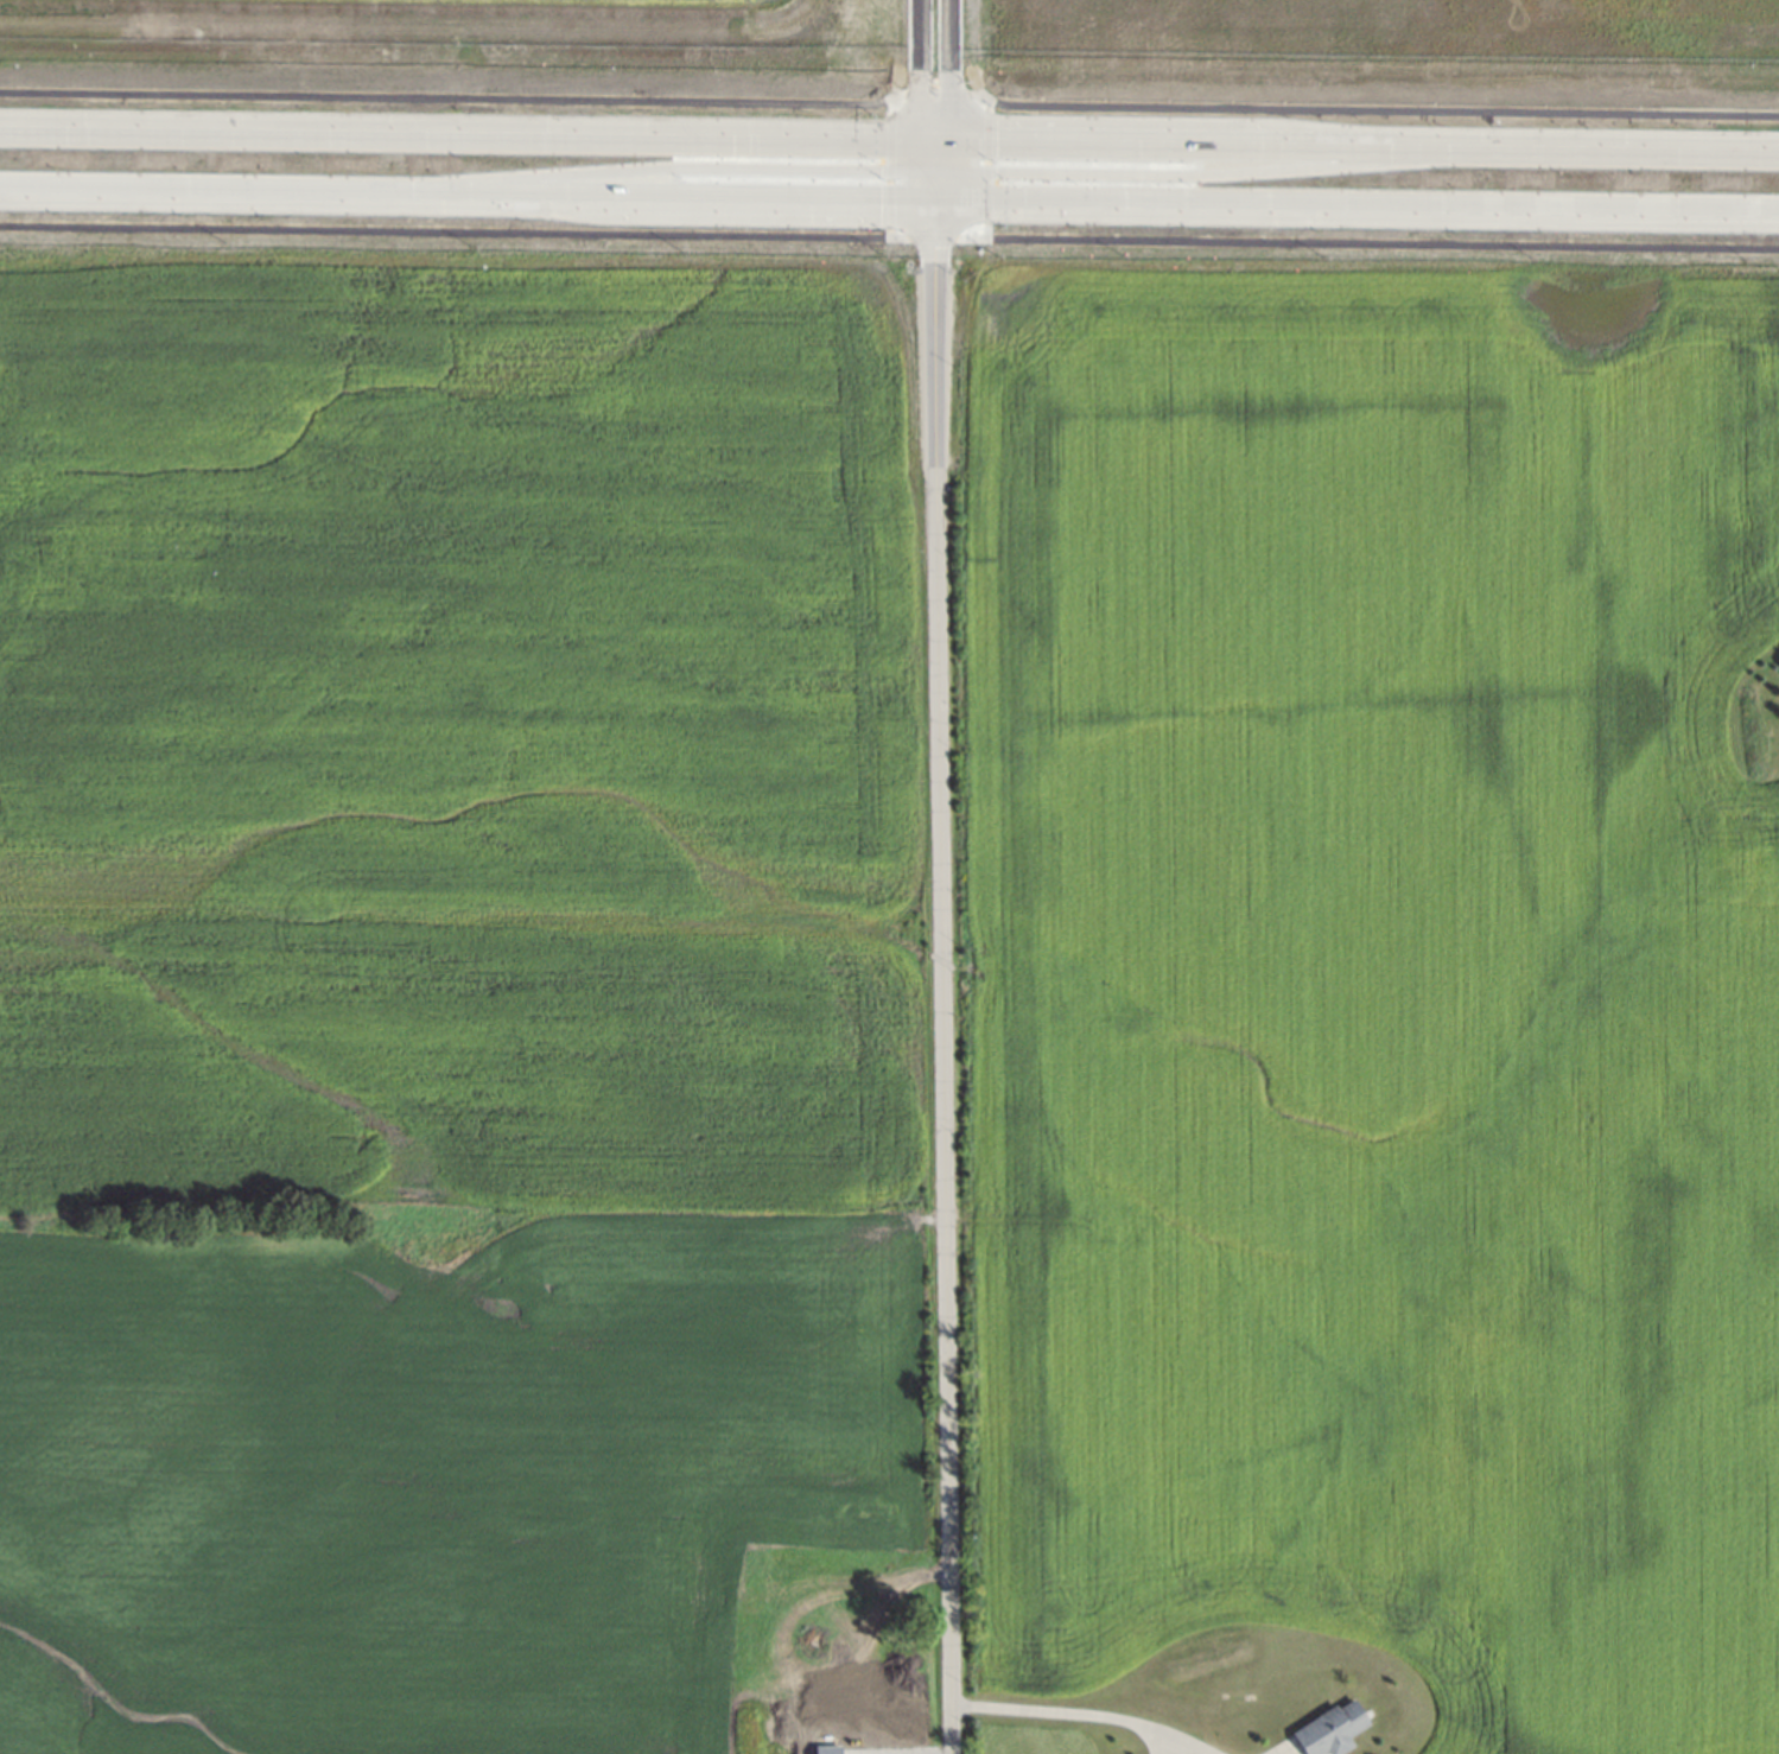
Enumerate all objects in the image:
road: (920, 69)
road: (947, 69)
traffic signals: (920, 85)
road: (935, 93)
road: (451, 97)
road: (1373, 108)
road: (460, 133)
road: (934, 139)
traffic signals: (996, 139)
road: (1364, 142)
road: (920, 151)
road: (935, 153)
road: (947, 160)
road: (987, 163)
road: (889, 165)
road: (676, 166)
traffic signals: (881, 169)
traffic signals: (996, 172)
road: (1196, 174)
road: (920, 183)
road: (932, 190)
road: (946, 192)
road: (459, 197)
traffic signals: (879, 203)
road: (933, 203)
road: (1362, 209)
road: (926, 220)
road: (939, 221)
road: (452, 230)
road: (986, 230)
road: (889, 233)
road: (930, 237)
road: (1366, 242)
traffic signals: (932, 246)
crop: (1384, 986)
road: (939, 996)
building: (831, 1646)
road: (1073, 1714)
building: (1327, 1723)

